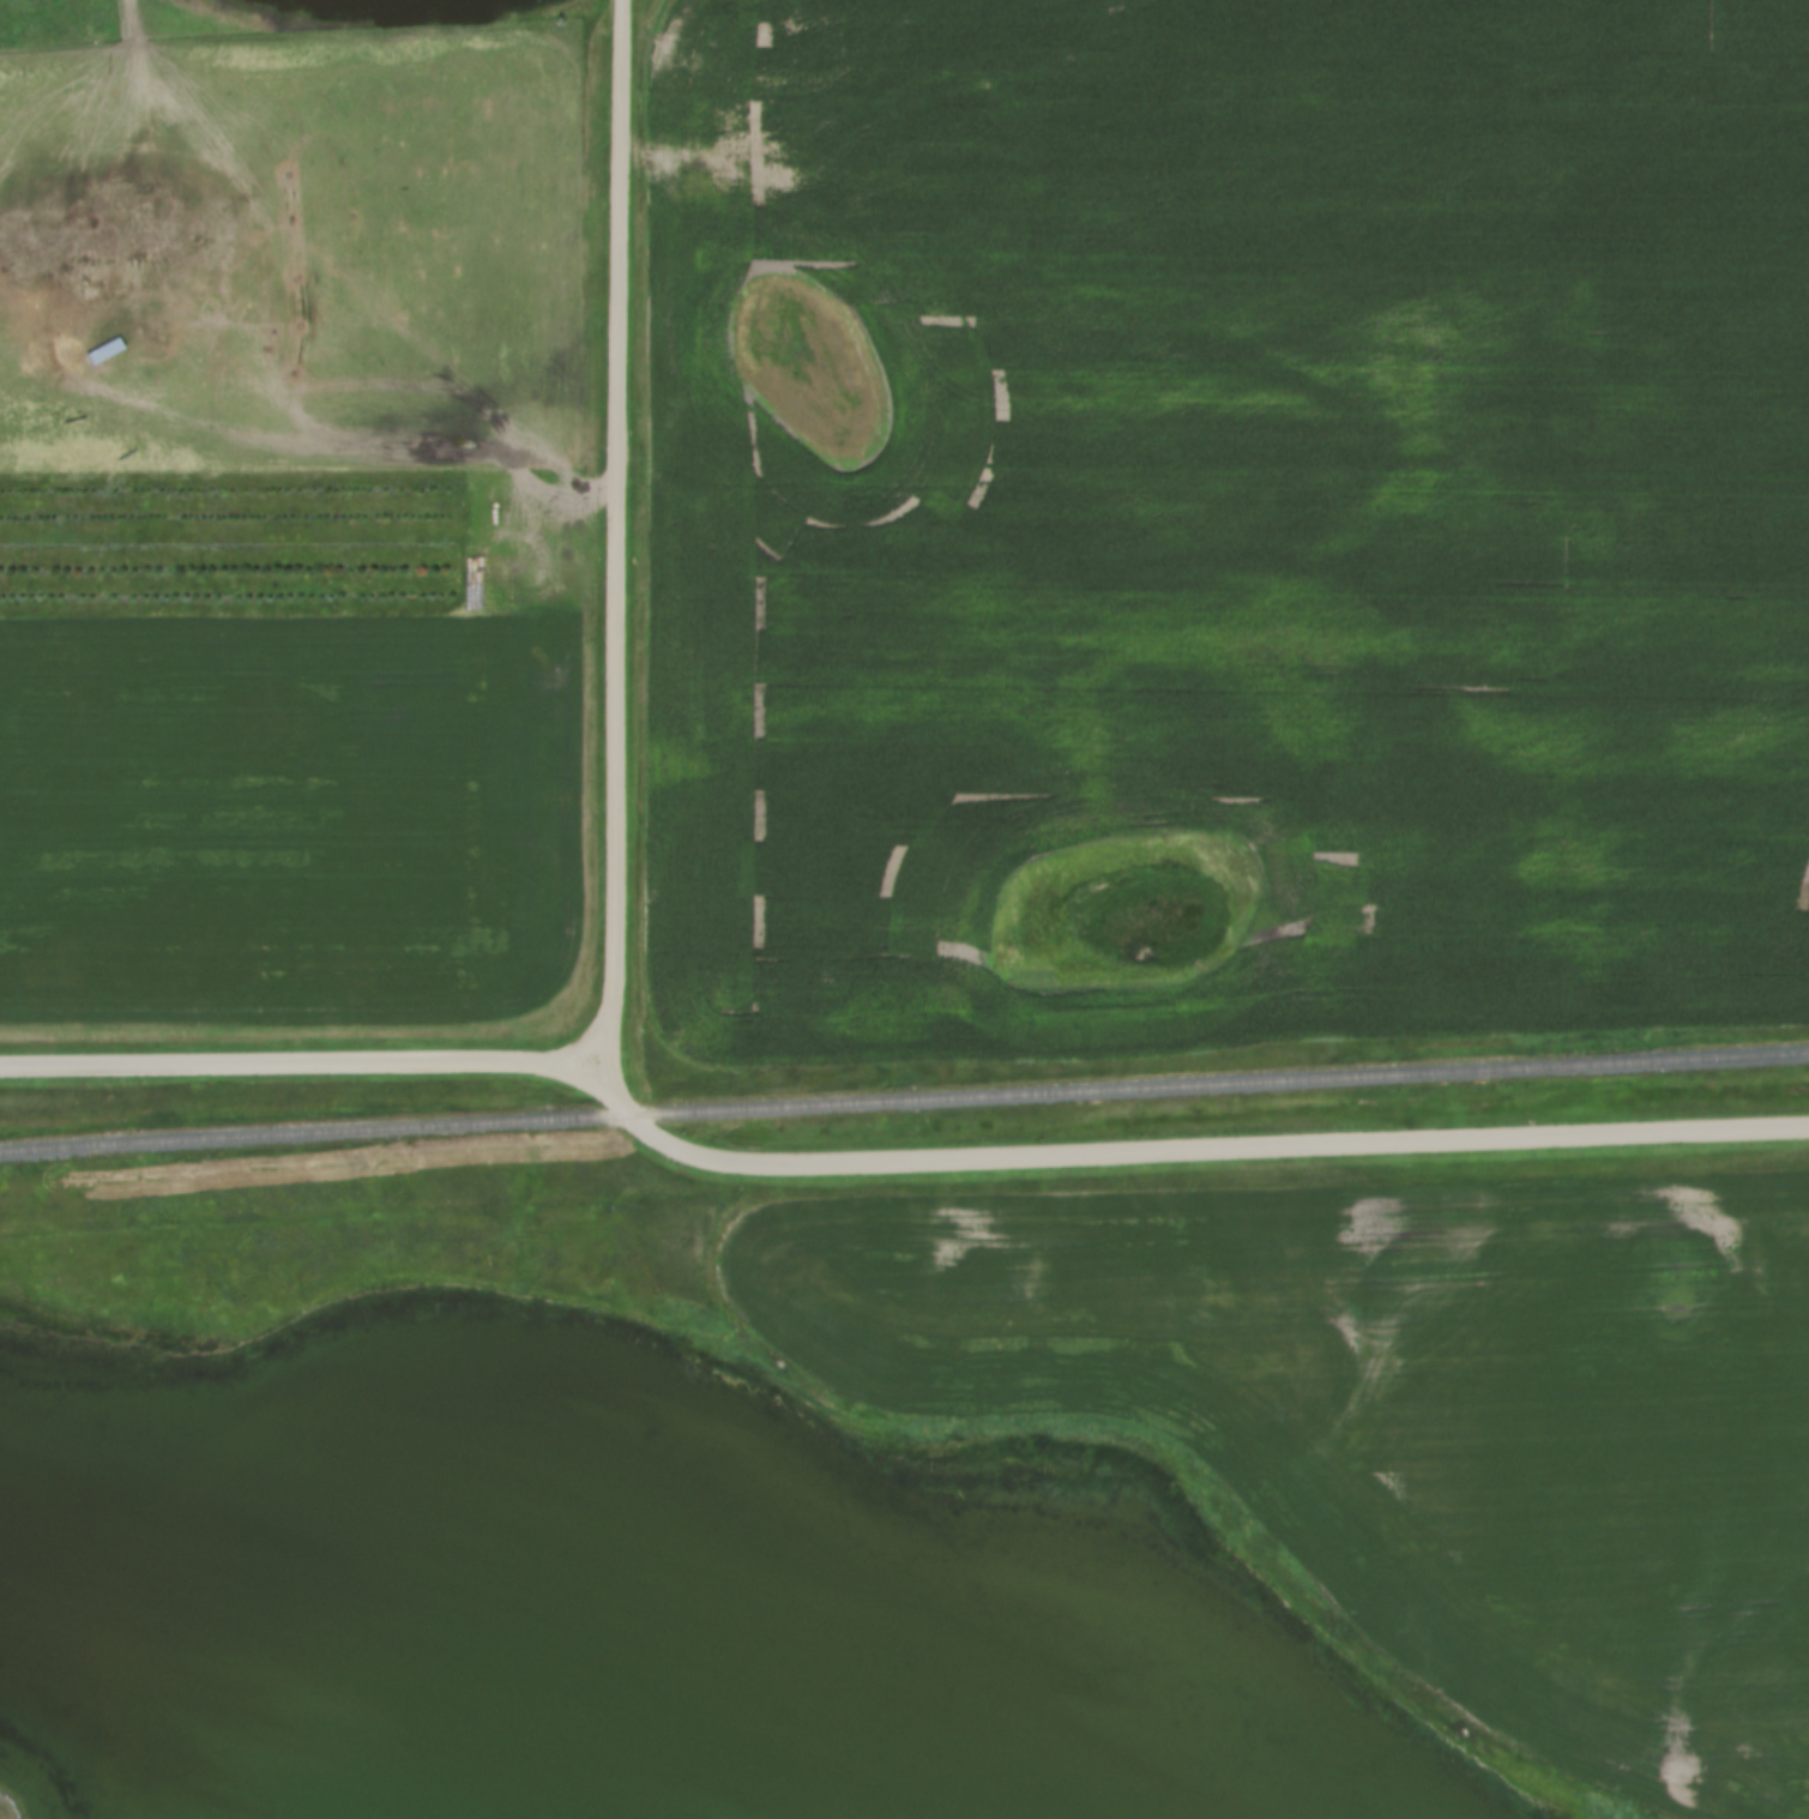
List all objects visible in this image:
road: (620, 531)
road: (306, 1065)
railway: (903, 1092)
road: (1184, 1150)

